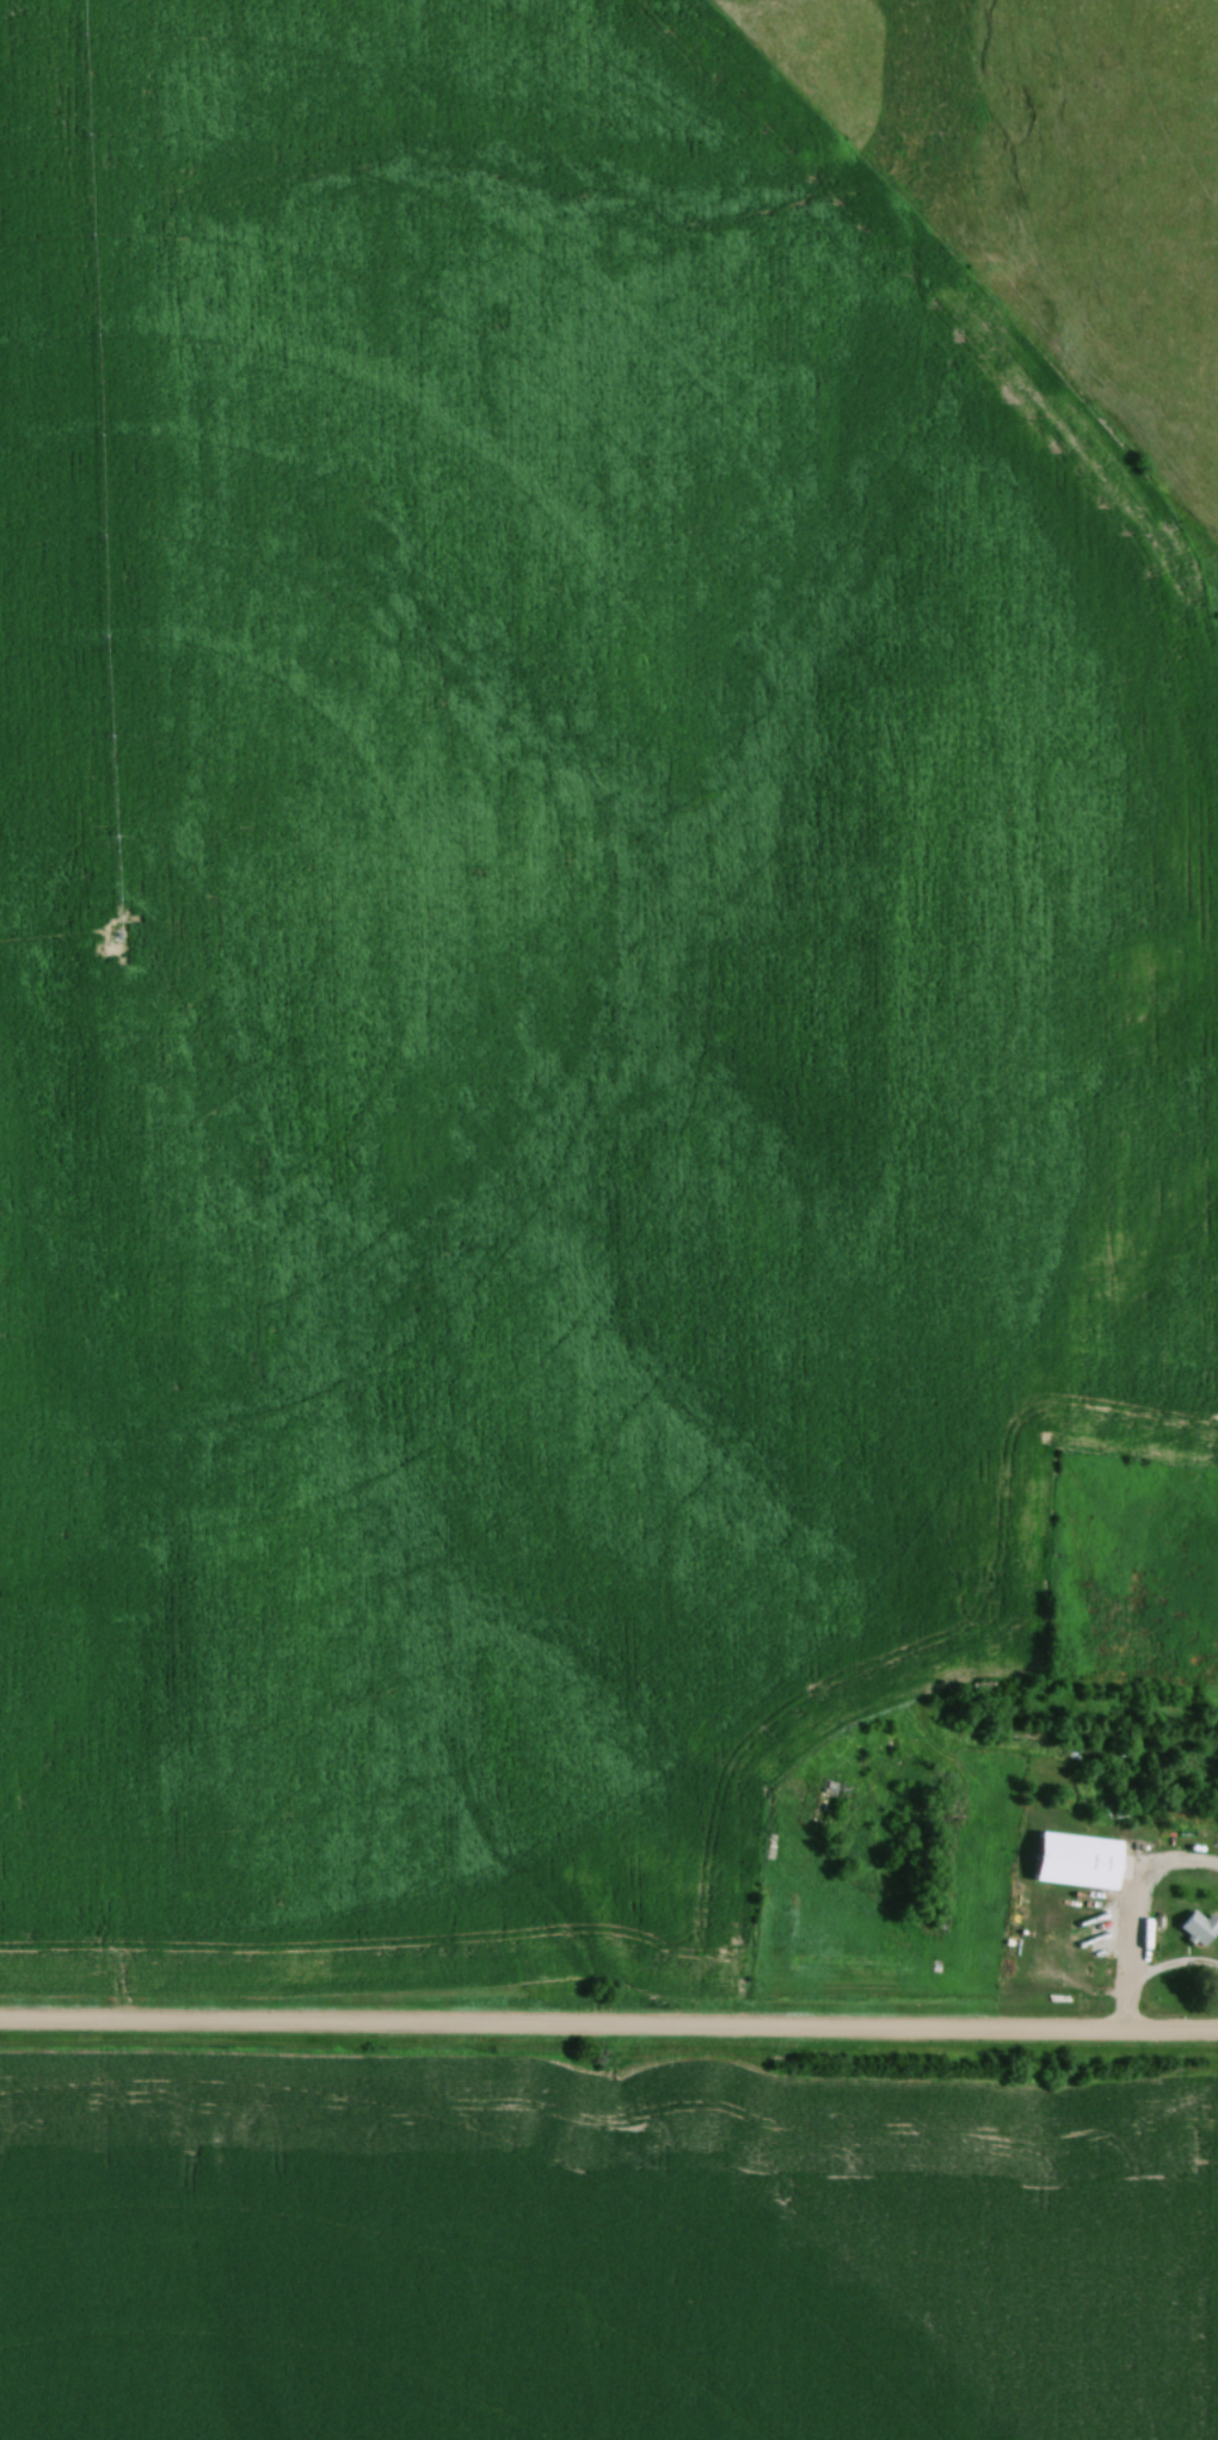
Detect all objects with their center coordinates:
building: (830, 1787)
building: (1081, 1861)
road: (1144, 1971)
road: (608, 2031)

